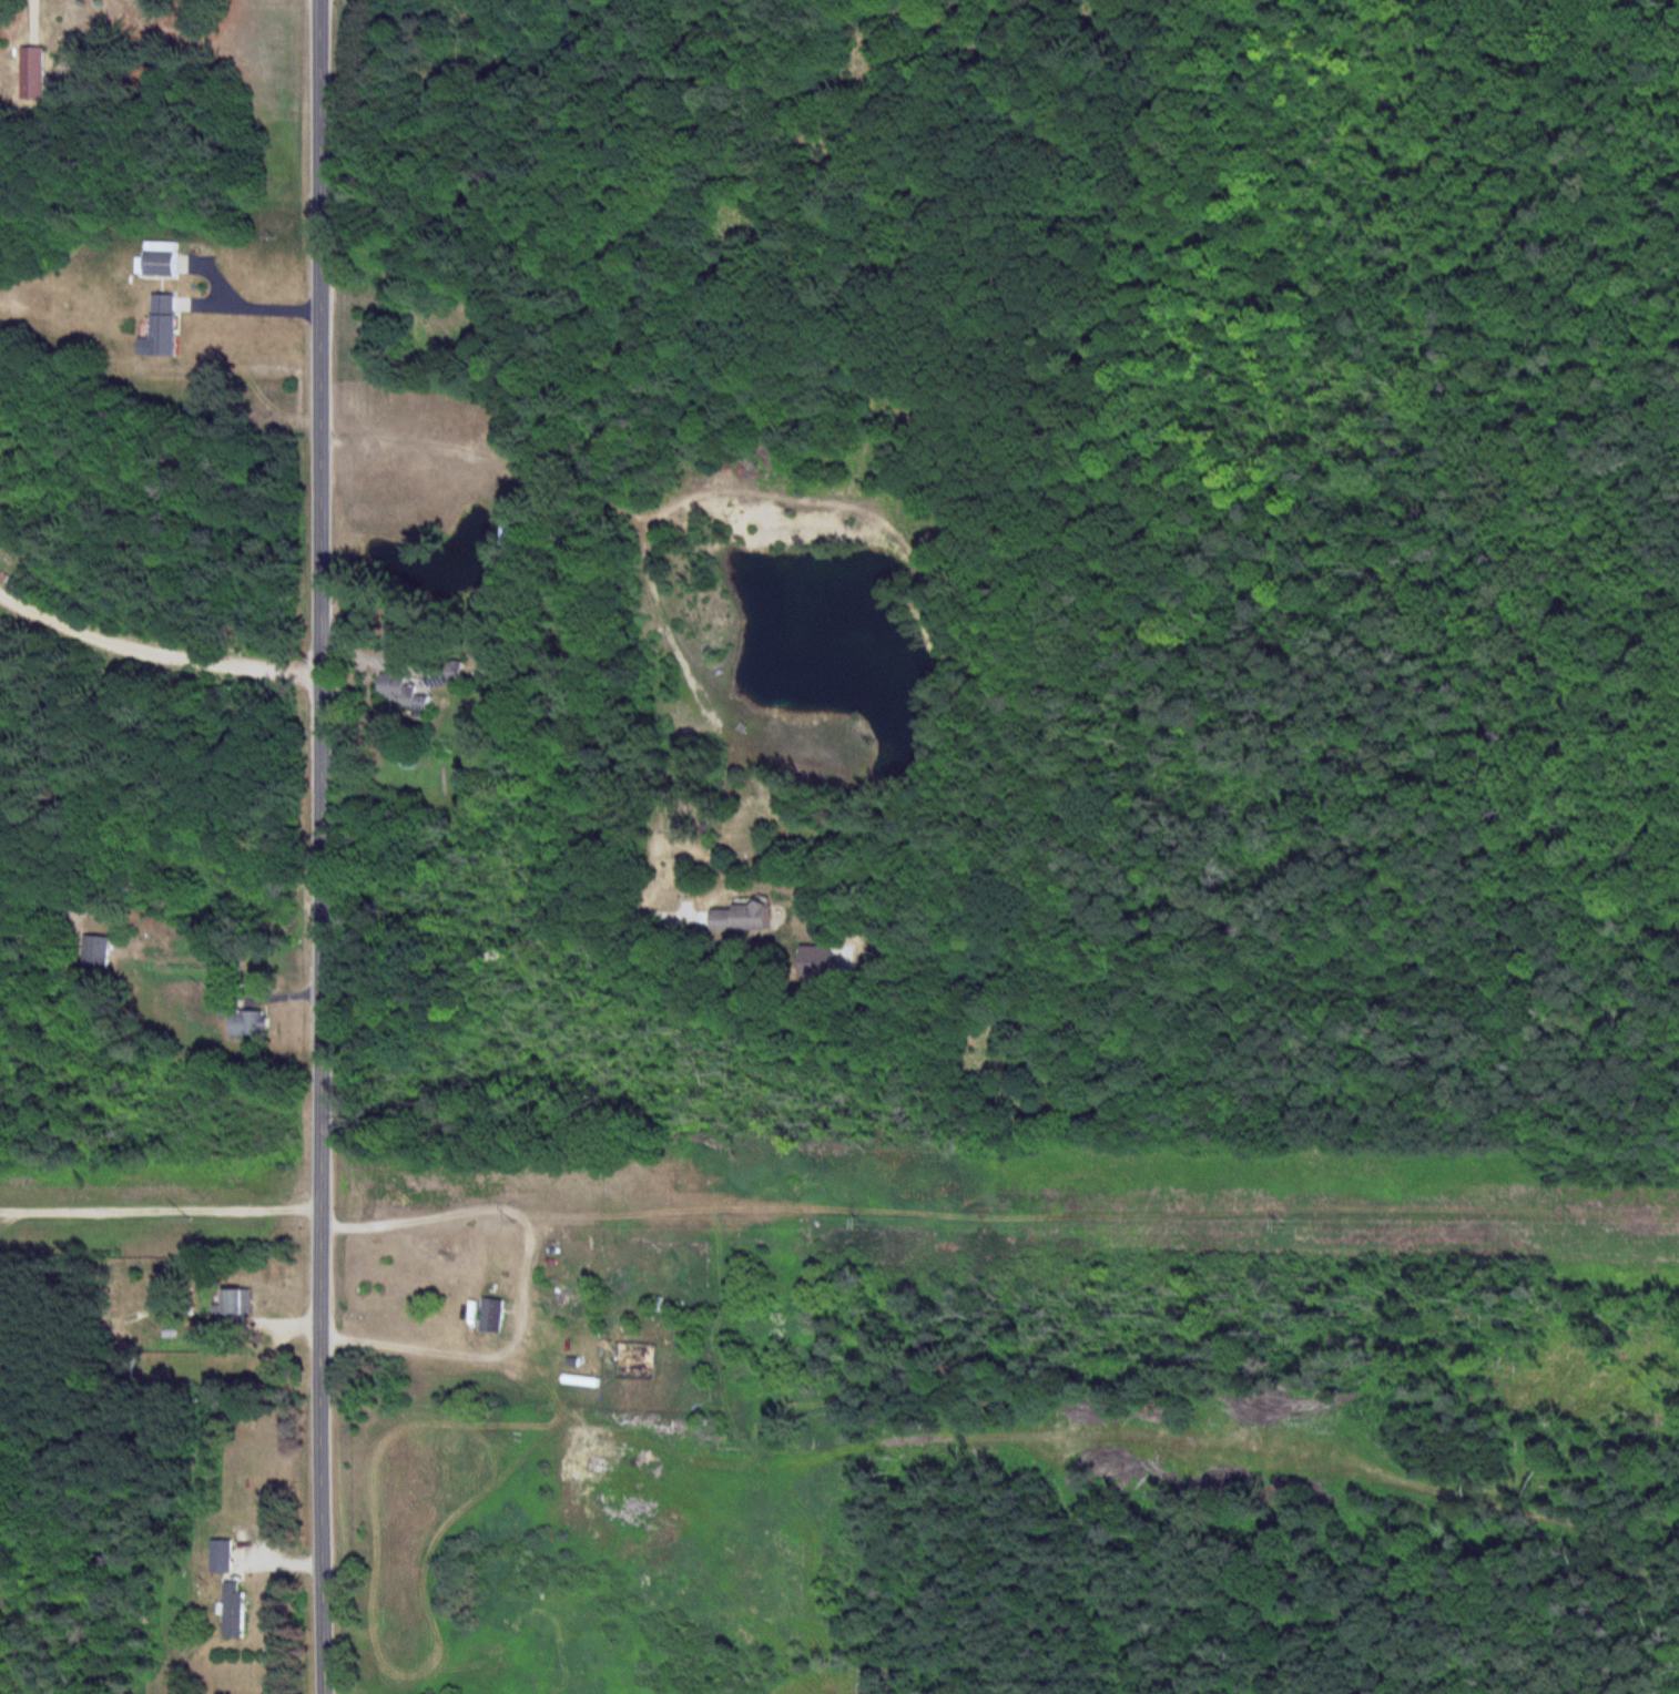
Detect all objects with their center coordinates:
building: (39, 73)
building: (165, 259)
building: (171, 325)
building: (408, 692)
road: (319, 847)
building: (746, 918)
building: (100, 952)
road: (499, 955)
building: (248, 1021)
road: (160, 1210)
building: (242, 1303)
building: (662, 1306)
building: (495, 1315)
building: (224, 1558)
building: (238, 1612)

